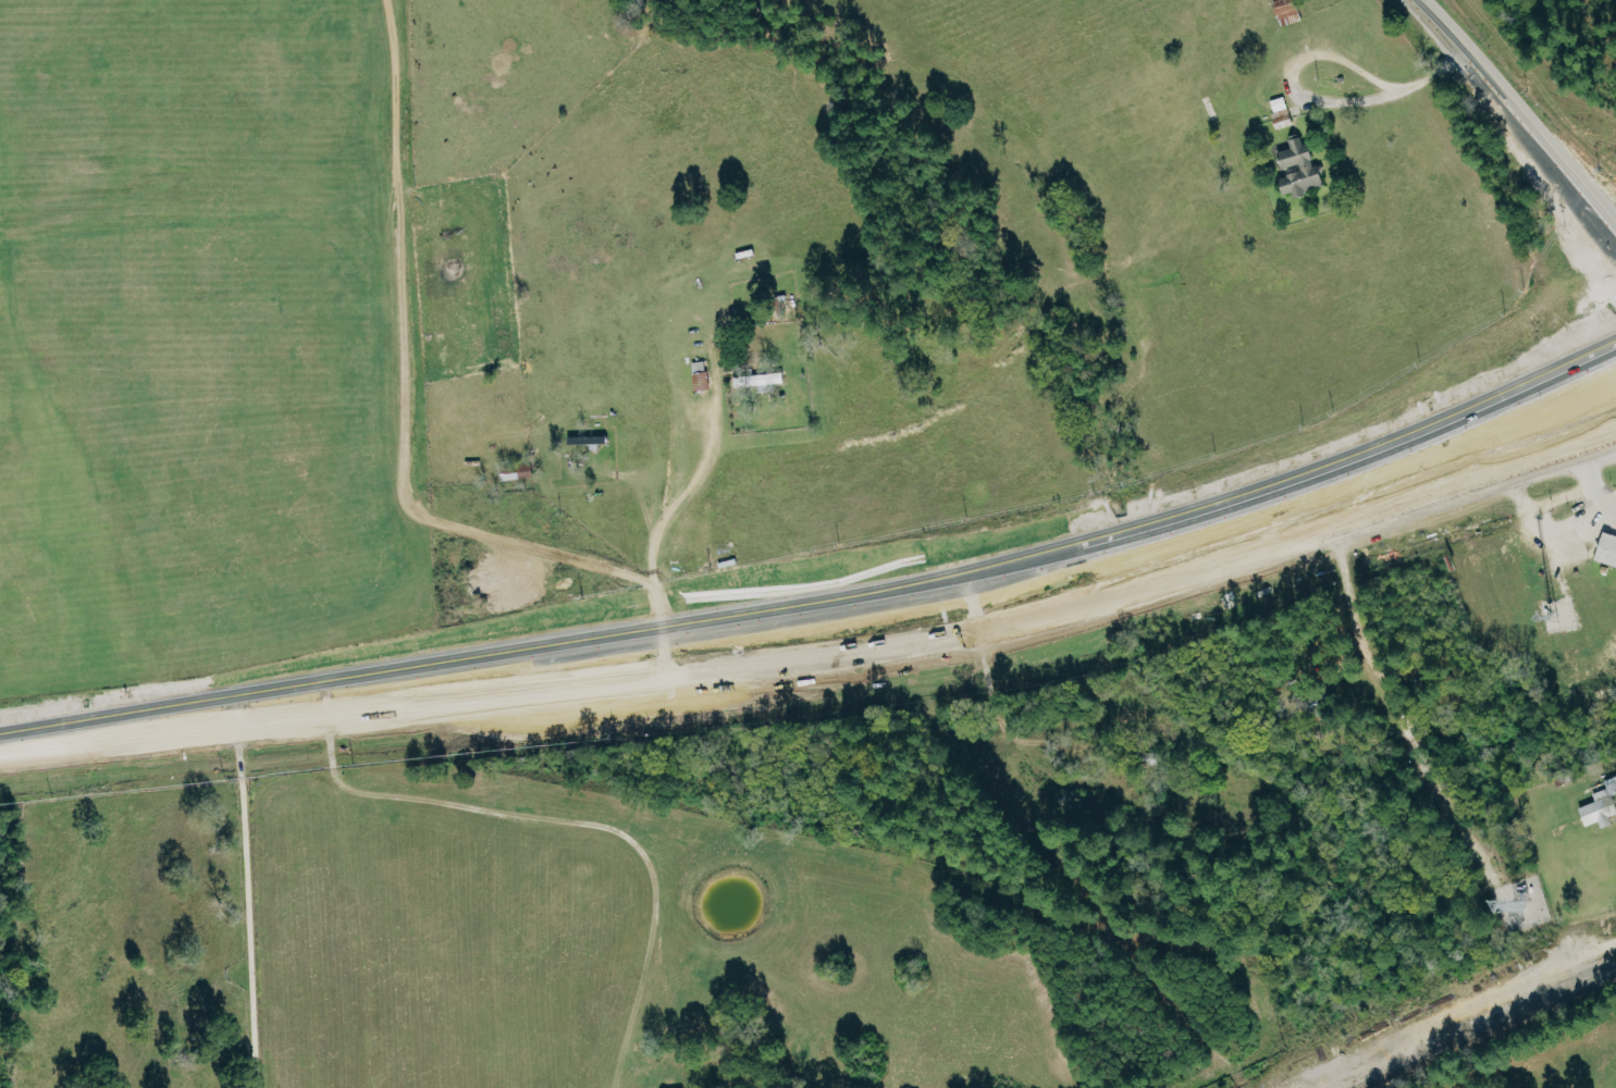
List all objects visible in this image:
building: (1291, 11)
road: (1324, 55)
building: (1283, 111)
road: (1514, 119)
building: (1304, 168)
building: (762, 381)
building: (589, 440)
building: (521, 471)
road: (1594, 484)
road: (1530, 506)
road: (1615, 523)
road: (1580, 530)
road: (676, 543)
building: (1608, 549)
road: (889, 590)
road: (888, 647)
road: (65, 730)
building: (1603, 806)
road: (243, 902)
road: (1584, 924)
railway: (1485, 1029)

